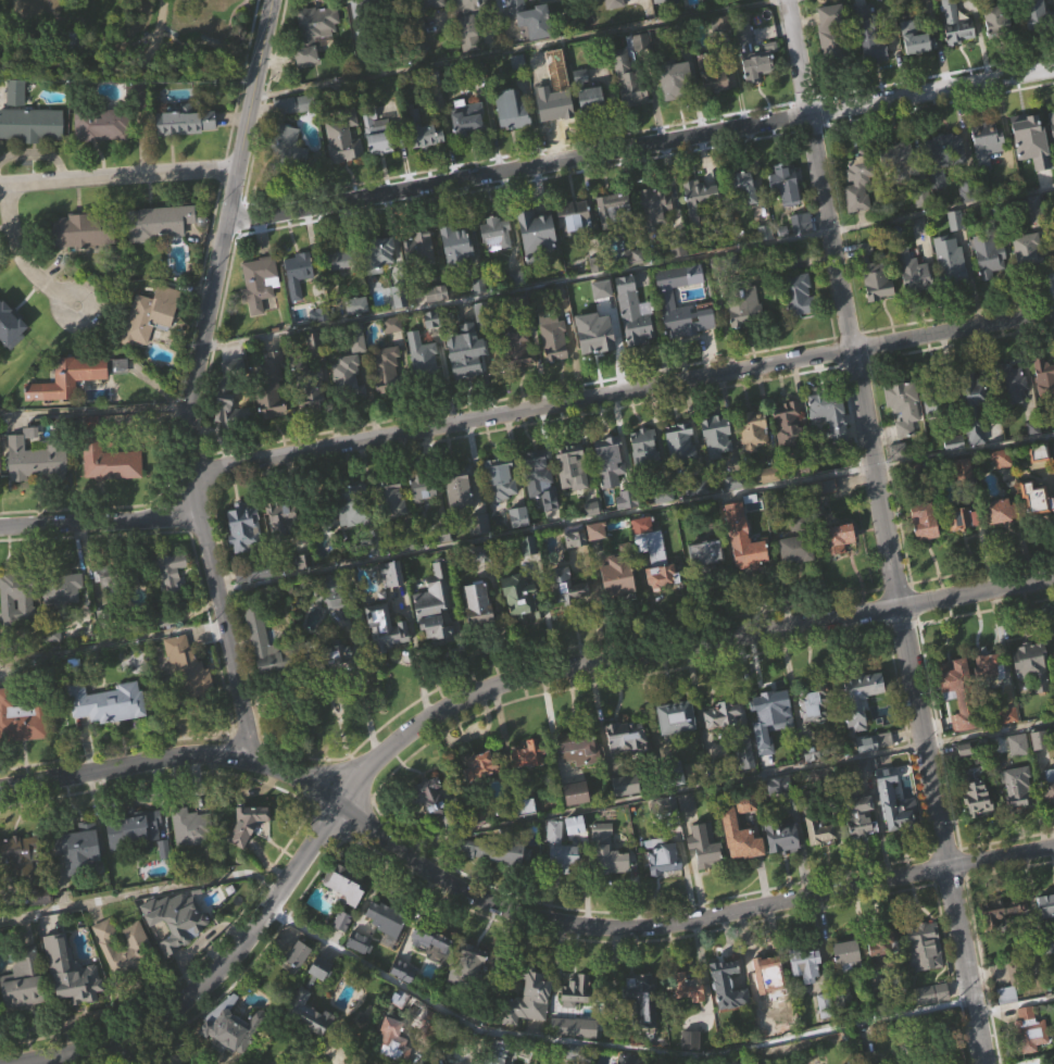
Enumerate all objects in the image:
building: (615, 3)
building: (751, 8)
building: (951, 11)
building: (667, 12)
building: (1037, 14)
building: (473, 18)
building: (531, 18)
building: (1000, 23)
building: (432, 26)
building: (315, 32)
building: (414, 33)
road: (155, 34)
building: (833, 35)
building: (915, 38)
building: (1037, 43)
building: (870, 45)
road: (516, 49)
building: (997, 49)
building: (755, 52)
building: (956, 53)
road: (799, 58)
building: (832, 62)
building: (315, 63)
road: (128, 66)
building: (917, 68)
building: (714, 76)
building: (875, 78)
building: (628, 79)
building: (674, 80)
building: (755, 85)
road: (932, 92)
building: (550, 97)
building: (592, 101)
building: (580, 109)
building: (718, 109)
building: (630, 110)
building: (675, 110)
road: (249, 111)
building: (511, 111)
building: (468, 116)
building: (27, 118)
building: (134, 121)
building: (186, 121)
building: (101, 125)
building: (1050, 125)
building: (290, 128)
building: (425, 128)
building: (591, 128)
building: (553, 132)
building: (380, 134)
building: (344, 136)
building: (1026, 137)
building: (513, 140)
building: (987, 142)
building: (468, 150)
building: (187, 151)
building: (944, 152)
building: (1052, 152)
building: (32, 155)
building: (103, 155)
building: (901, 159)
building: (424, 161)
building: (380, 165)
road: (518, 170)
building: (1031, 171)
building: (988, 173)
building: (288, 176)
road: (118, 179)
building: (859, 180)
building: (788, 184)
building: (744, 185)
building: (944, 186)
building: (901, 189)
building: (700, 202)
building: (654, 208)
building: (1030, 208)
building: (614, 209)
building: (574, 215)
building: (858, 215)
building: (744, 218)
building: (159, 223)
building: (701, 224)
building: (793, 226)
building: (538, 229)
building: (84, 230)
building: (495, 233)
building: (757, 234)
building: (656, 235)
building: (1051, 237)
building: (613, 239)
building: (1034, 239)
building: (455, 246)
building: (575, 247)
building: (418, 250)
building: (1022, 250)
road: (16, 252)
building: (160, 252)
building: (802, 252)
building: (989, 254)
building: (378, 255)
building: (920, 255)
building: (343, 258)
building: (537, 260)
building: (952, 261)
building: (80, 262)
building: (498, 264)
building: (1053, 264)
building: (724, 265)
building: (299, 267)
road: (625, 271)
building: (912, 271)
building: (457, 273)
building: (875, 276)
building: (418, 277)
building: (381, 280)
building: (1028, 280)
building: (258, 283)
building: (990, 287)
building: (952, 291)
building: (341, 292)
building: (667, 295)
building: (795, 295)
building: (300, 302)
building: (915, 302)
street lamp: (75, 304)
building: (876, 304)
building: (742, 306)
building: (632, 312)
road: (87, 313)
building: (260, 313)
building: (150, 315)
building: (484, 315)
building: (437, 322)
building: (799, 324)
building: (11, 327)
building: (591, 331)
building: (552, 336)
building: (682, 336)
building: (745, 337)
building: (355, 338)
building: (518, 342)
building: (636, 342)
building: (150, 343)
building: (464, 353)
building: (11, 354)
building: (591, 363)
building: (426, 364)
building: (555, 370)
building: (386, 371)
building: (359, 373)
building: (1042, 375)
building: (518, 377)
building: (67, 378)
building: (348, 378)
building: (465, 381)
building: (1007, 383)
building: (423, 385)
building: (271, 387)
building: (309, 387)
building: (235, 398)
building: (387, 398)
building: (932, 398)
building: (968, 400)
building: (900, 404)
building: (1044, 405)
building: (350, 406)
building: (70, 408)
road: (92, 412)
road: (520, 412)
building: (832, 412)
building: (1014, 414)
building: (313, 424)
building: (789, 427)
building: (753, 429)
building: (937, 431)
building: (717, 435)
building: (904, 437)
building: (973, 438)
building: (233, 440)
building: (829, 442)
building: (680, 445)
building: (645, 449)
building: (790, 452)
building: (108, 459)
building: (610, 459)
building: (754, 460)
building: (36, 461)
building: (717, 465)
building: (573, 466)
building: (1053, 471)
building: (681, 472)
building: (954, 473)
building: (644, 475)
building: (501, 477)
building: (541, 477)
building: (898, 481)
building: (423, 486)
building: (457, 487)
building: (610, 488)
building: (1002, 488)
building: (37, 491)
road: (192, 491)
building: (111, 492)
building: (573, 497)
building: (1029, 498)
building: (393, 499)
building: (963, 501)
building: (541, 508)
building: (502, 509)
building: (993, 511)
road: (636, 514)
building: (424, 515)
building: (461, 515)
building: (355, 518)
building: (954, 518)
building: (284, 521)
building: (915, 521)
building: (392, 527)
building: (243, 528)
building: (1036, 528)
building: (405, 536)
building: (594, 537)
building: (842, 537)
building: (748, 539)
building: (798, 540)
building: (1000, 540)
building: (519, 547)
building: (963, 547)
building: (281, 549)
building: (485, 552)
building: (925, 552)
building: (643, 554)
building: (653, 554)
building: (708, 555)
building: (597, 561)
building: (576, 567)
building: (839, 567)
building: (252, 569)
building: (744, 569)
building: (168, 572)
building: (392, 574)
building: (529, 574)
building: (115, 578)
building: (796, 578)
building: (707, 583)
building: (568, 584)
building: (62, 587)
building: (334, 590)
road: (895, 590)
building: (660, 591)
building: (17, 599)
building: (525, 600)
building: (171, 603)
building: (392, 603)
building: (479, 603)
building: (618, 605)
building: (106, 606)
building: (569, 617)
building: (63, 618)
building: (435, 624)
building: (518, 626)
building: (386, 627)
building: (17, 629)
building: (479, 633)
building: (1053, 642)
road: (112, 643)
building: (269, 644)
building: (332, 656)
building: (387, 656)
building: (1053, 656)
building: (1028, 664)
building: (981, 665)
building: (188, 673)
building: (266, 675)
building: (949, 678)
building: (337, 684)
building: (1032, 696)
building: (865, 698)
road: (466, 699)
building: (990, 699)
building: (189, 700)
building: (108, 702)
building: (819, 703)
building: (770, 704)
building: (21, 717)
building: (680, 717)
building: (959, 723)
building: (861, 727)
building: (735, 728)
building: (109, 731)
building: (624, 733)
building: (814, 736)
building: (581, 741)
building: (875, 741)
building: (726, 743)
building: (1007, 744)
building: (677, 747)
building: (770, 747)
building: (18, 752)
building: (531, 754)
building: (485, 765)
building: (627, 765)
building: (875, 772)
building: (672, 773)
building: (579, 777)
building: (967, 778)
building: (529, 783)
road: (726, 784)
building: (629, 785)
building: (746, 785)
building: (1047, 786)
building: (1016, 787)
building: (481, 794)
building: (970, 798)
building: (441, 802)
building: (666, 810)
building: (627, 813)
building: (1049, 814)
building: (779, 815)
building: (901, 815)
building: (862, 816)
building: (1018, 816)
building: (732, 821)
building: (577, 823)
building: (249, 824)
building: (189, 826)
building: (978, 826)
building: (133, 827)
building: (437, 827)
building: (821, 830)
building: (894, 831)
building: (687, 835)
building: (785, 837)
building: (705, 844)
building: (861, 846)
building: (78, 849)
building: (562, 849)
building: (608, 850)
building: (731, 850)
building: (495, 851)
building: (250, 852)
building: (664, 855)
building: (188, 856)
building: (135, 858)
building: (819, 860)
building: (25, 863)
building: (781, 866)
building: (561, 876)
building: (704, 876)
building: (81, 878)
building: (497, 881)
building: (608, 881)
building: (20, 885)
building: (351, 885)
building: (663, 885)
road: (143, 893)
building: (1044, 905)
road: (509, 911)
building: (994, 912)
building: (349, 914)
building: (387, 916)
building: (177, 921)
building: (41, 925)
building: (1046, 935)
building: (431, 937)
building: (1003, 939)
building: (360, 941)
building: (882, 943)
building: (925, 946)
building: (125, 947)
building: (387, 948)
building: (179, 949)
building: (343, 950)
building: (849, 950)
building: (474, 954)
building: (806, 963)
building: (71, 971)
building: (404, 971)
building: (361, 972)
building: (124, 976)
building: (882, 978)
building: (23, 980)
building: (846, 981)
building: (1009, 981)
building: (730, 982)
building: (692, 985)
building: (297, 986)
building: (774, 986)
building: (579, 989)
building: (473, 990)
building: (932, 993)
building: (841, 994)
building: (529, 996)
building: (806, 996)
building: (321, 998)
building: (644, 998)
building: (882, 999)
building: (405, 1000)
building: (72, 1001)
road: (1014, 1003)
building: (24, 1007)
building: (310, 1012)
building: (774, 1014)
building: (728, 1015)
building: (688, 1017)
building: (577, 1019)
building: (931, 1023)
building: (1007, 1024)
building: (639, 1026)
building: (234, 1028)
building: (529, 1029)
building: (567, 1029)
building: (1028, 1030)
building: (310, 1044)
road: (607, 1047)
road: (135, 1048)
building: (392, 1048)
building: (228, 1049)
building: (499, 1051)
building: (1030, 1051)
building: (630, 1060)
building: (691, 1063)

